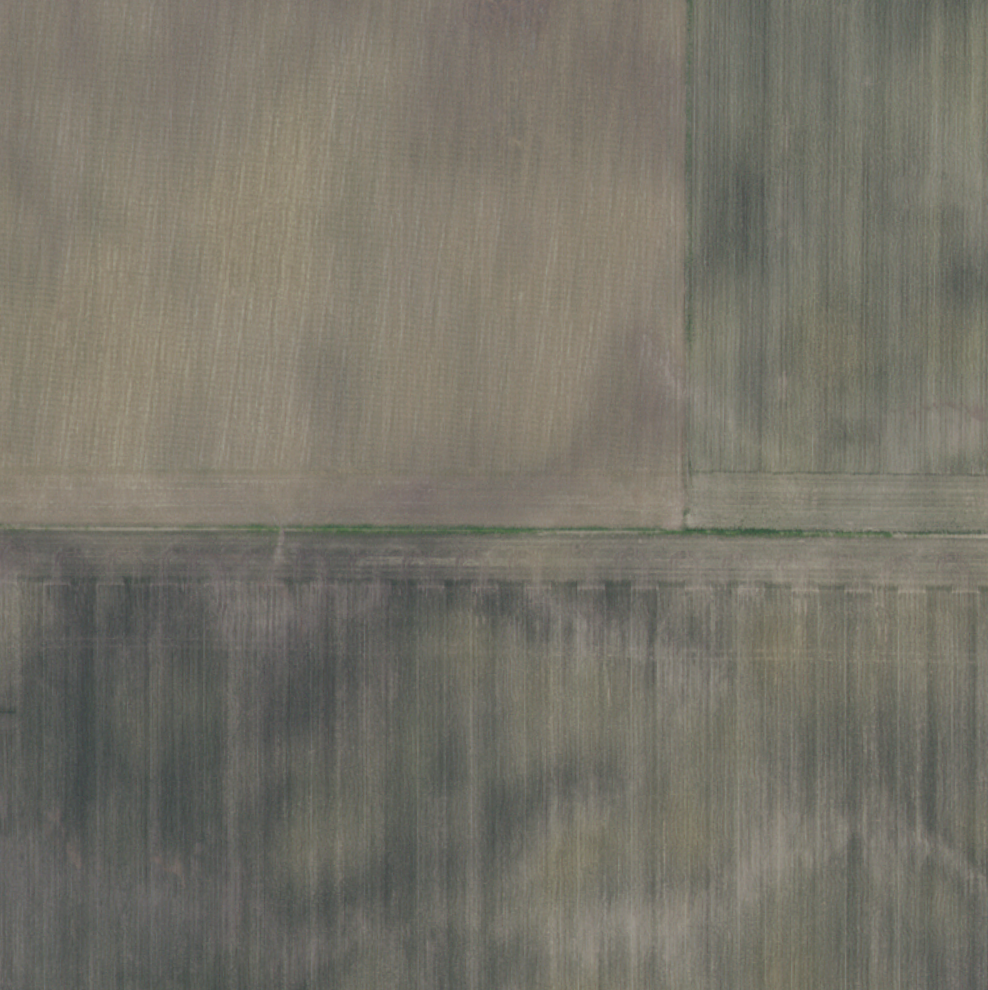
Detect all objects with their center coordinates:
crop: (494, 495)

